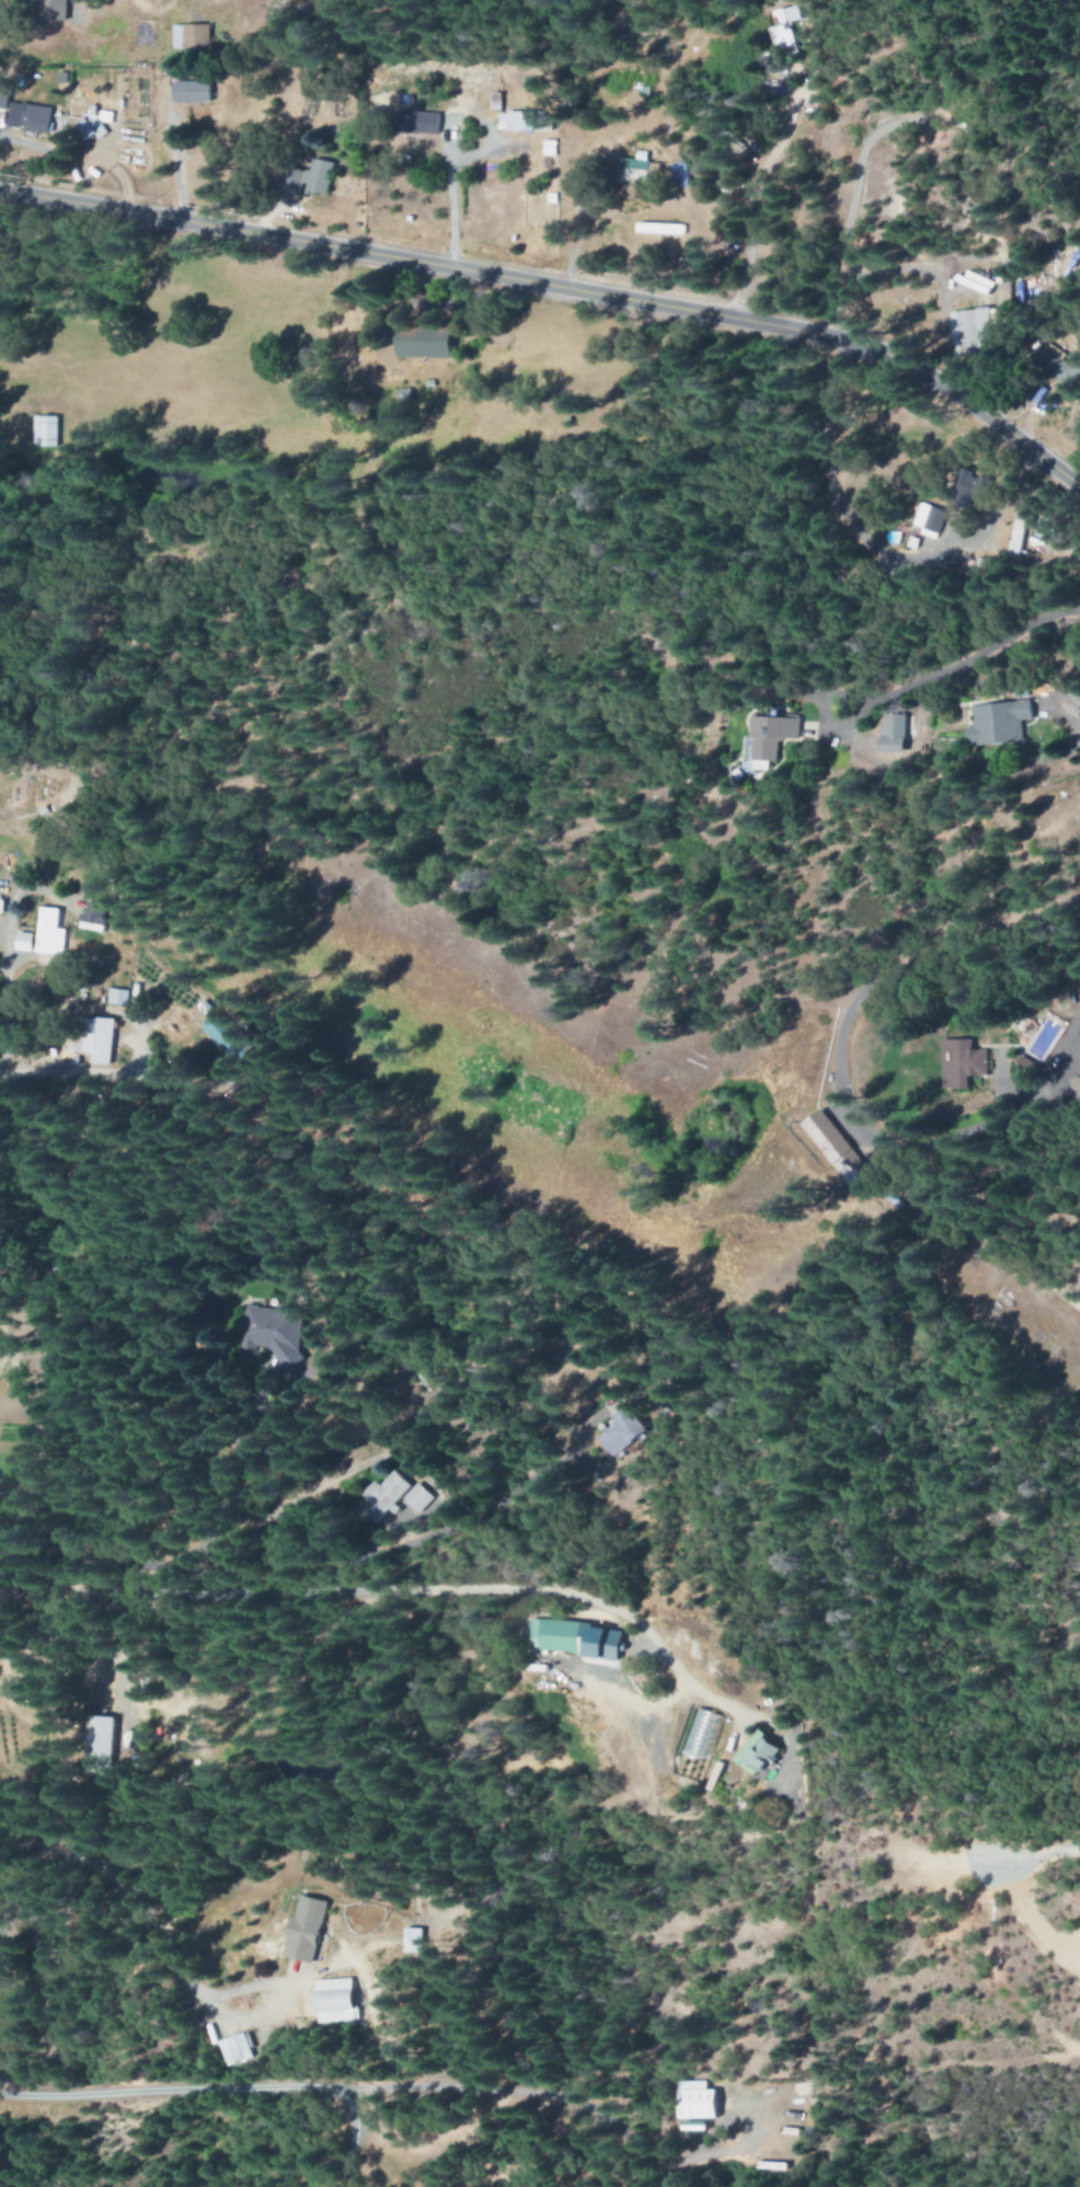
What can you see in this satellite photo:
building: (56, 10)
building: (783, 27)
building: (192, 36)
building: (378, 74)
building: (189, 87)
building: (5, 94)
building: (31, 117)
building: (524, 120)
building: (425, 122)
building: (681, 174)
building: (313, 179)
building: (662, 229)
road: (560, 289)
building: (969, 331)
building: (430, 342)
building: (1056, 365)
building: (46, 430)
building: (963, 485)
building: (927, 518)
building: (1016, 537)
building: (990, 723)
building: (884, 734)
building: (763, 736)
building: (95, 914)
building: (51, 933)
building: (26, 942)
building: (119, 997)
building: (228, 1038)
building: (103, 1039)
building: (962, 1061)
building: (823, 1137)
building: (273, 1331)
building: (624, 1434)
building: (387, 1496)
building: (420, 1497)
building: (561, 1635)
building: (610, 1644)
building: (105, 1745)
building: (699, 1745)
building: (761, 1753)
building: (308, 1930)
building: (414, 1941)
building: (2, 1981)
building: (337, 2000)
building: (237, 2049)
building: (696, 2100)

